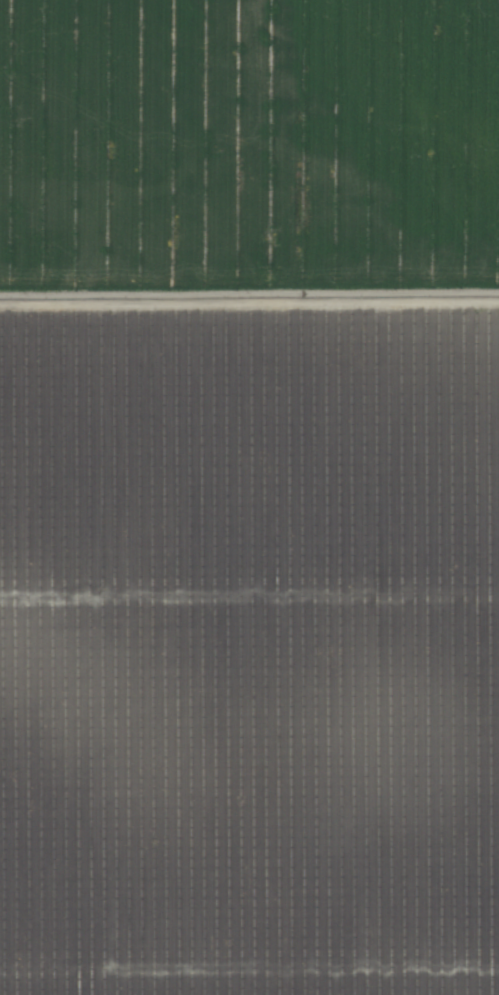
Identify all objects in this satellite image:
crop: (249, 497)
building: (58, 618)
building: (478, 797)
building: (405, 801)
building: (336, 845)

